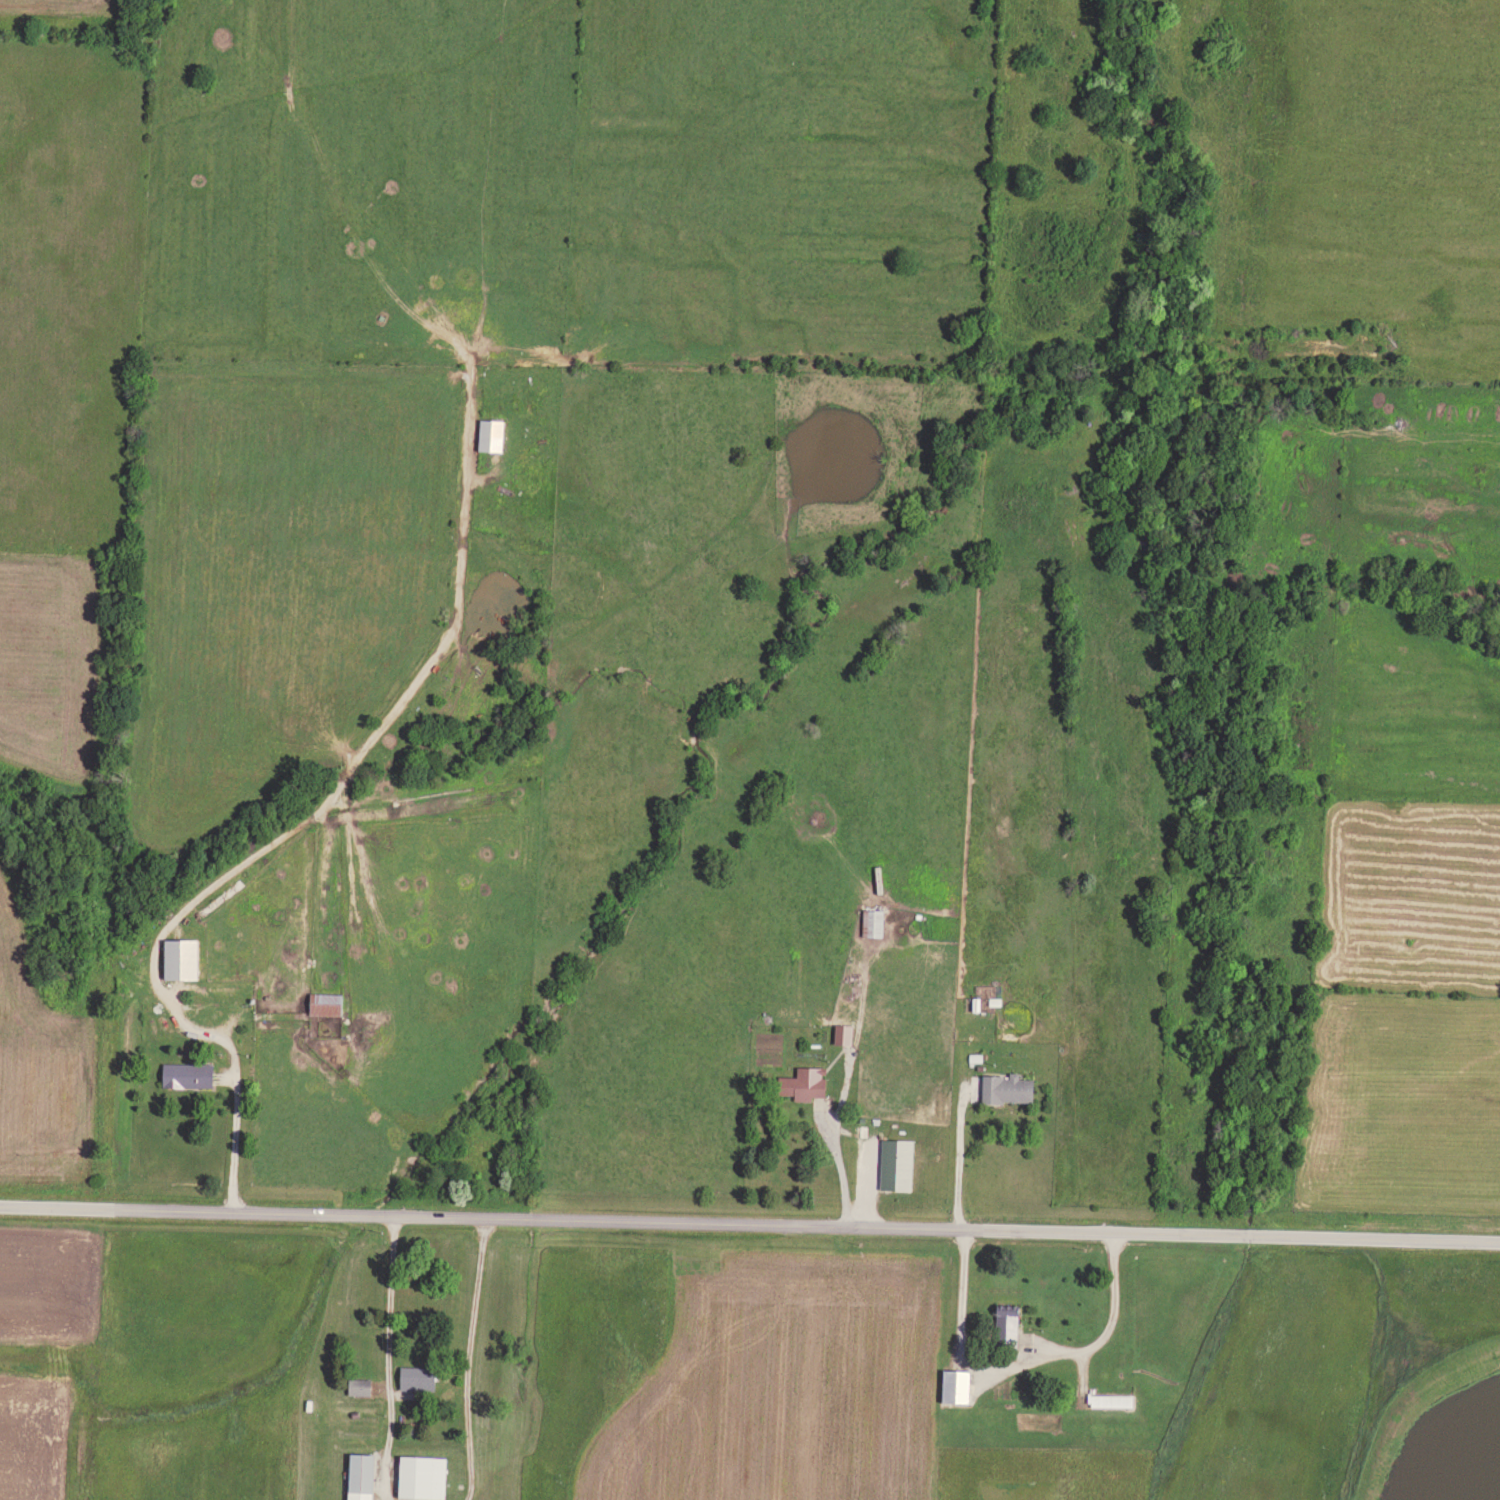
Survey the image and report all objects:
building: (493, 433)
building: (875, 921)
building: (183, 957)
building: (327, 1002)
building: (845, 1033)
road: (236, 1054)
building: (189, 1074)
building: (806, 1082)
building: (1009, 1087)
road: (842, 1159)
building: (898, 1163)
road: (750, 1221)
road: (965, 1281)
building: (1007, 1324)
road: (390, 1356)
building: (416, 1377)
building: (361, 1385)
building: (957, 1385)
building: (363, 1476)
building: (424, 1476)

